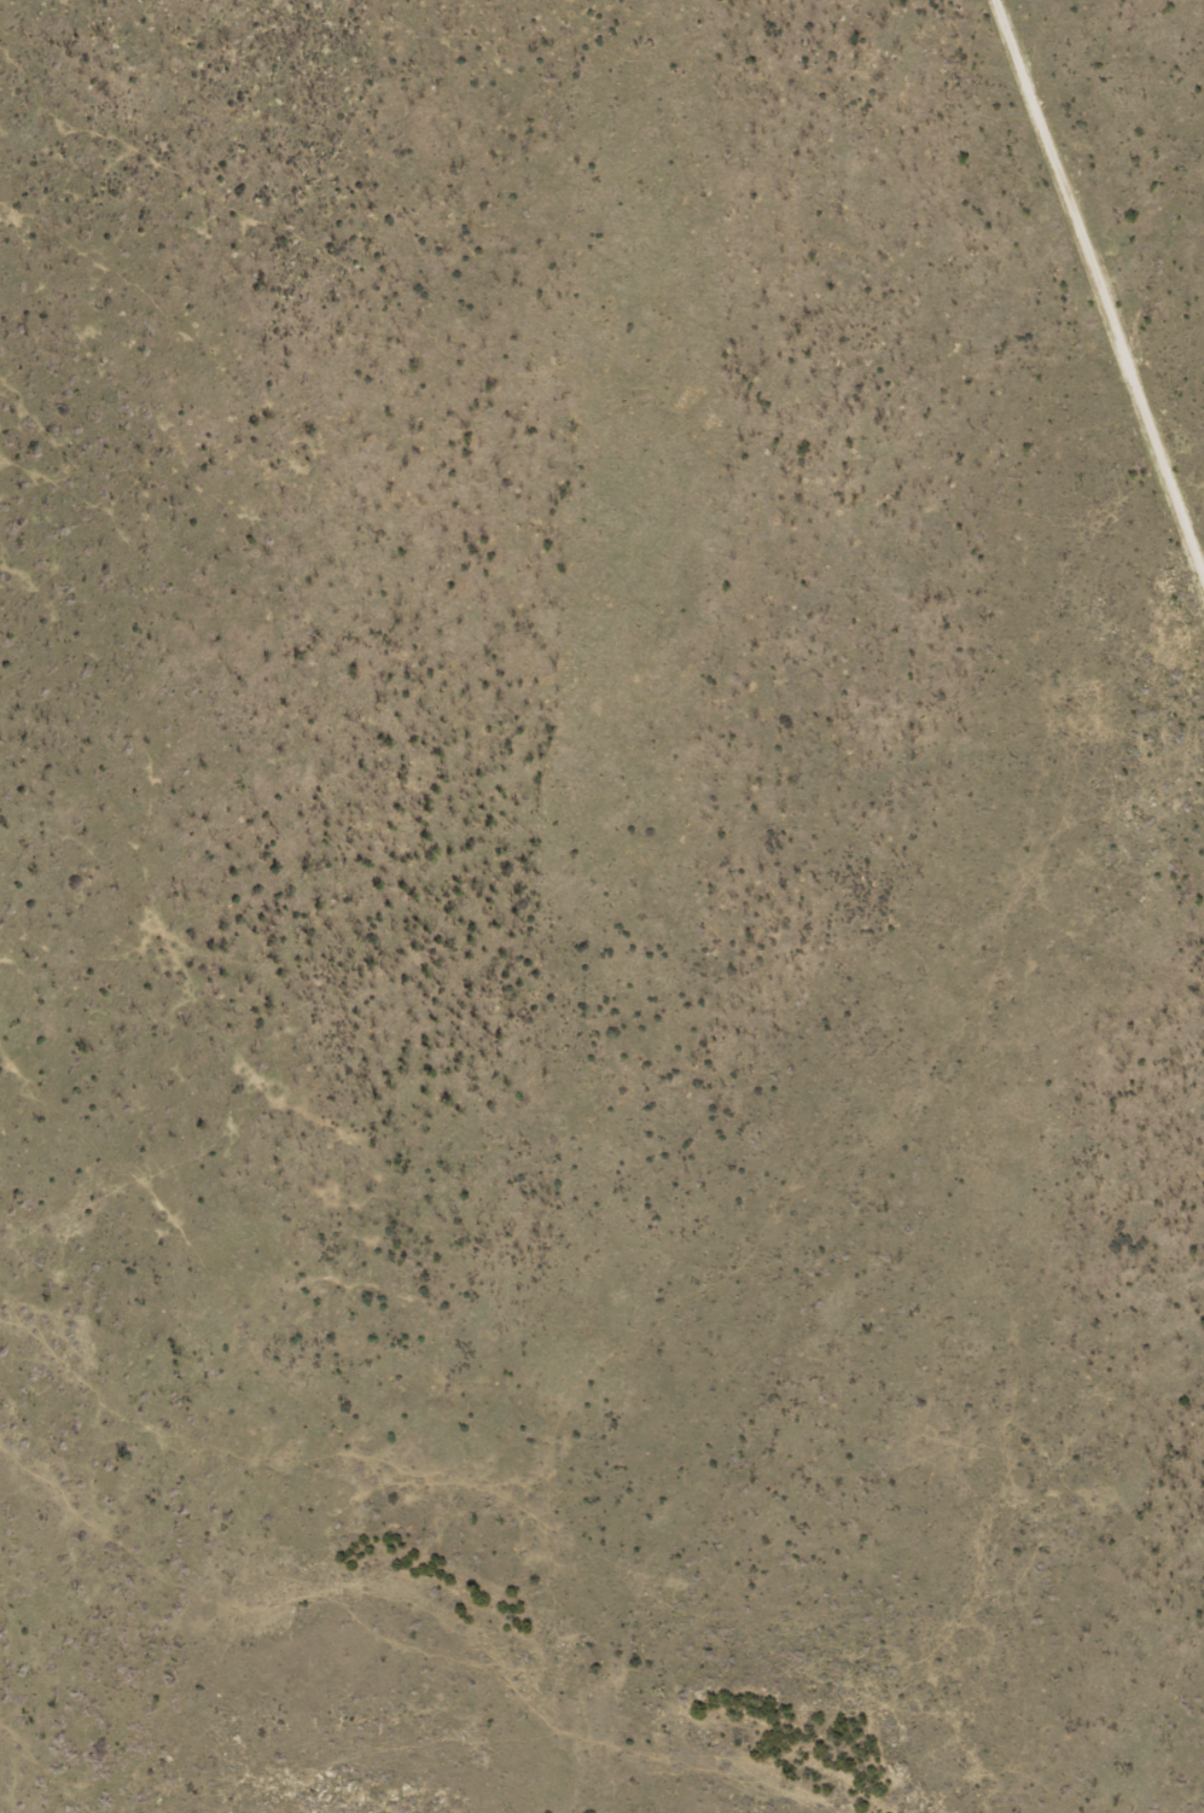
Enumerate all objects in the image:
road: (1107, 280)

